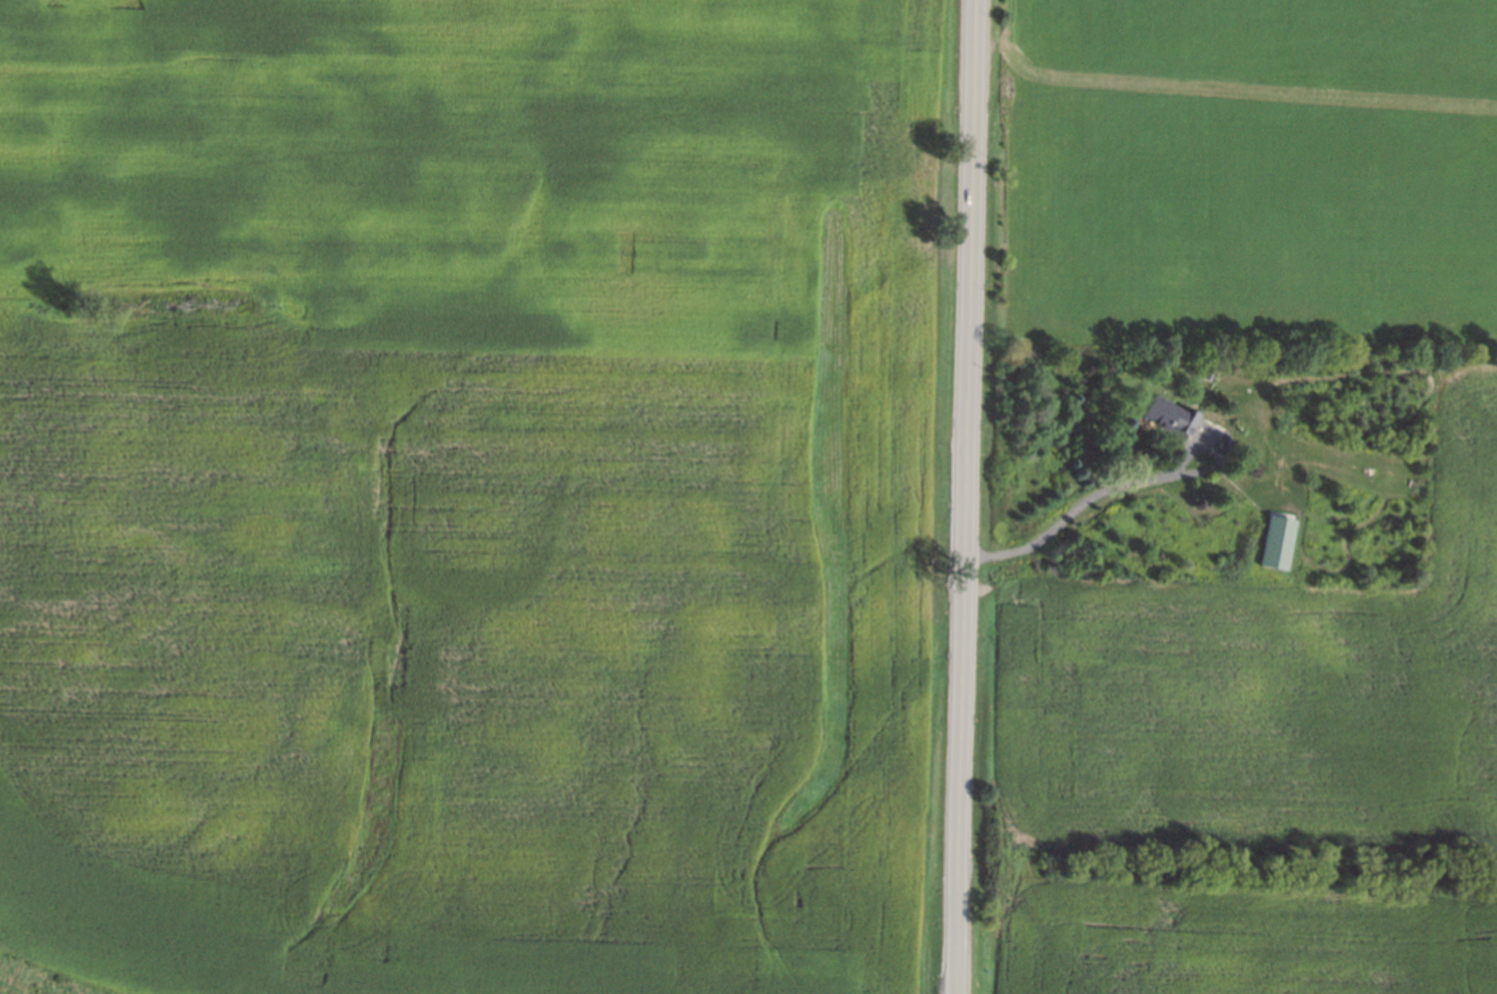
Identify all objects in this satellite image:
building: (1170, 416)
road: (1131, 481)
road: (964, 496)
building: (1277, 542)

